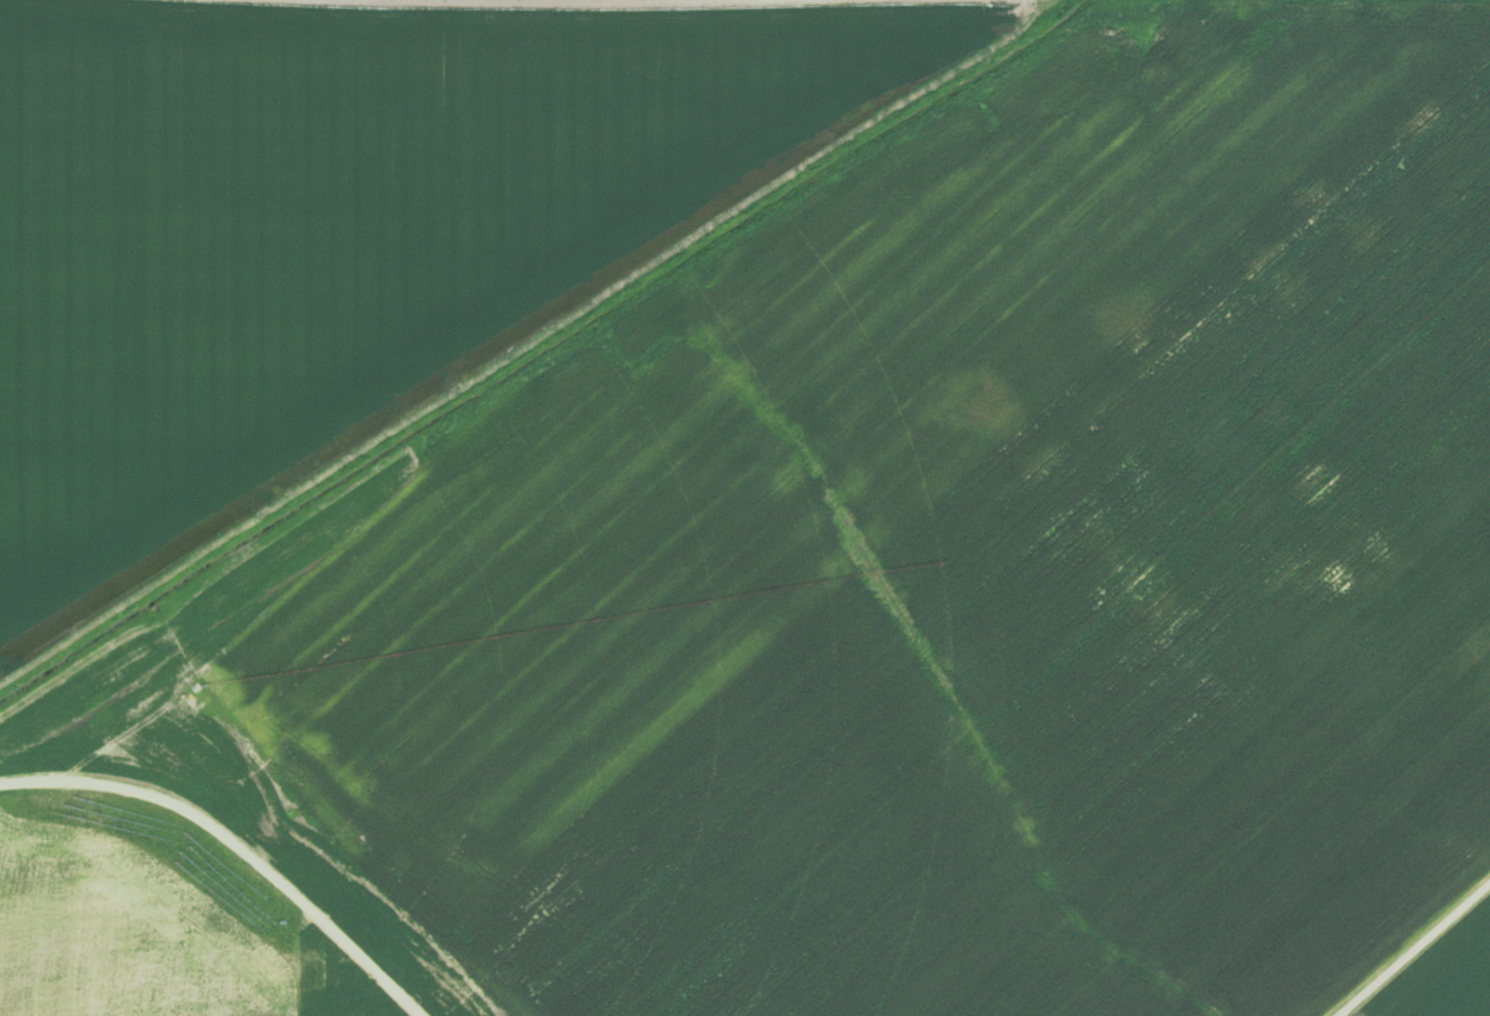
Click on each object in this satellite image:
road: (1412, 948)

